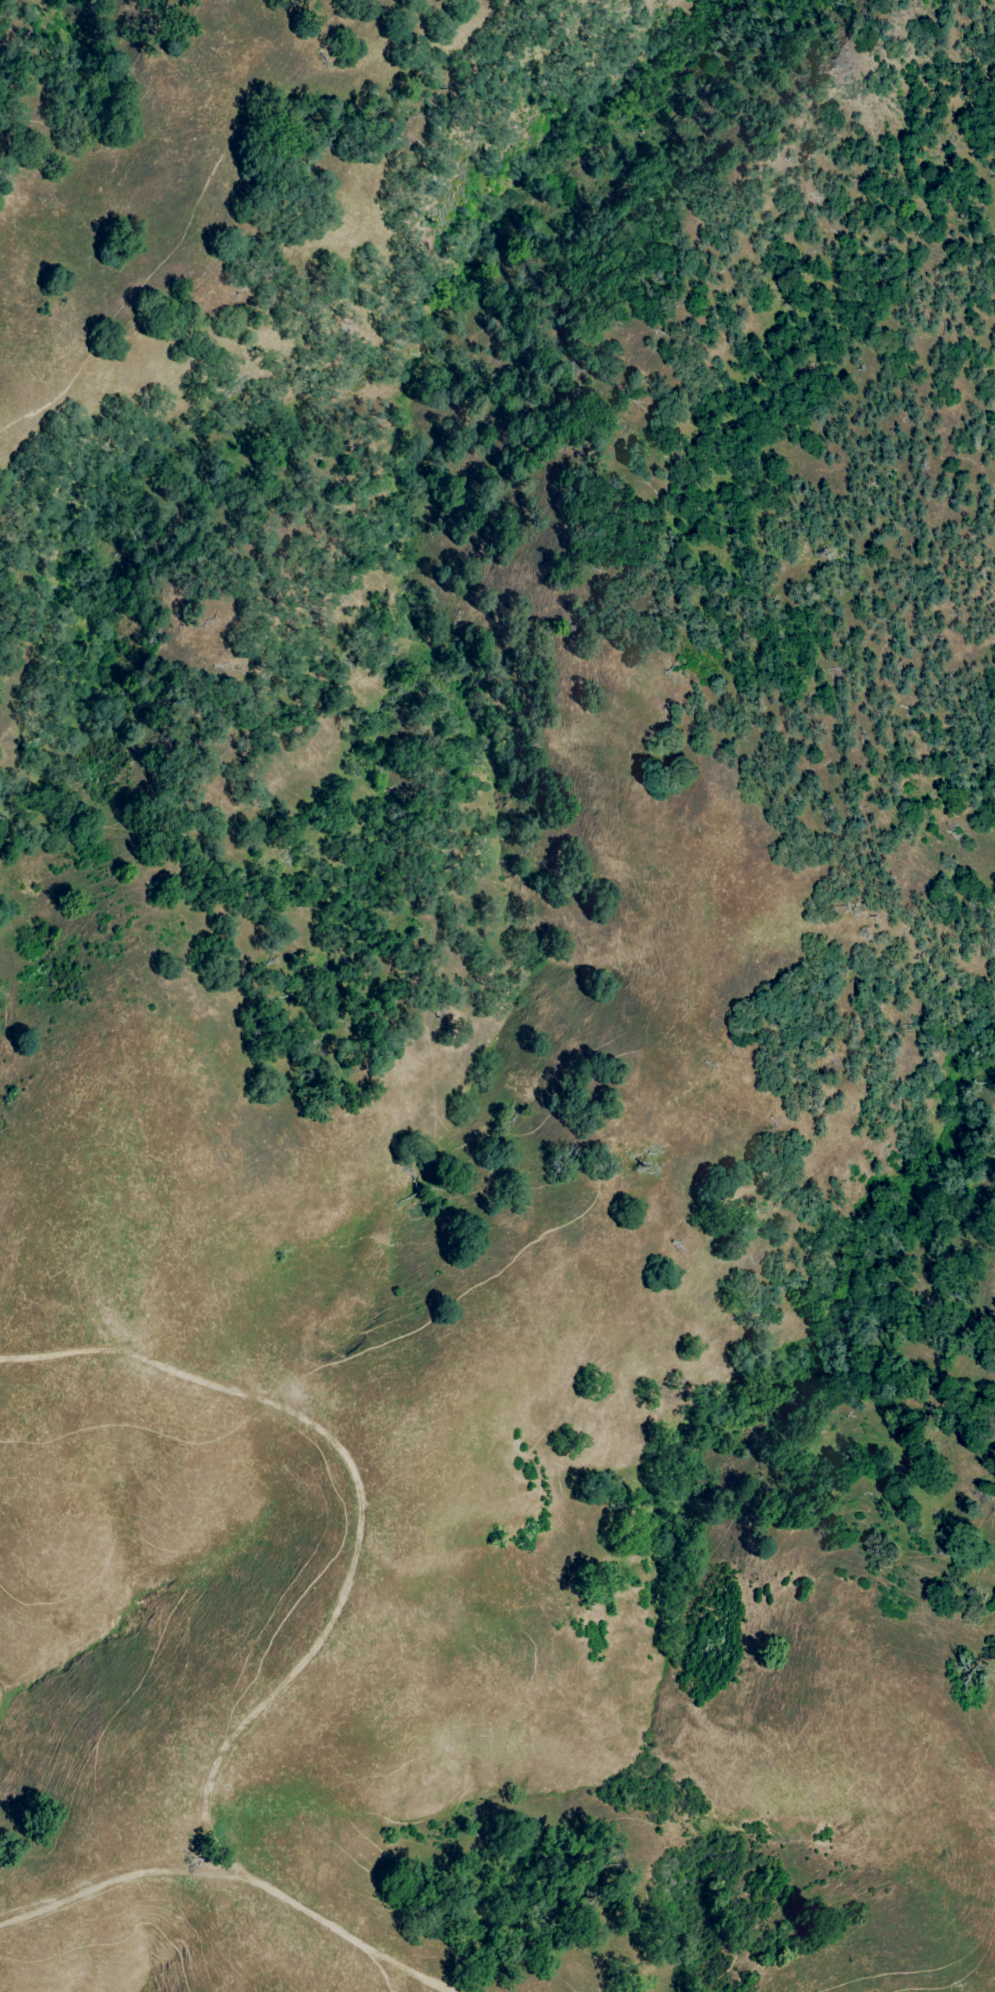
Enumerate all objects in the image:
road: (349, 1457)
road: (121, 1875)
road: (302, 1911)
road: (378, 1968)

